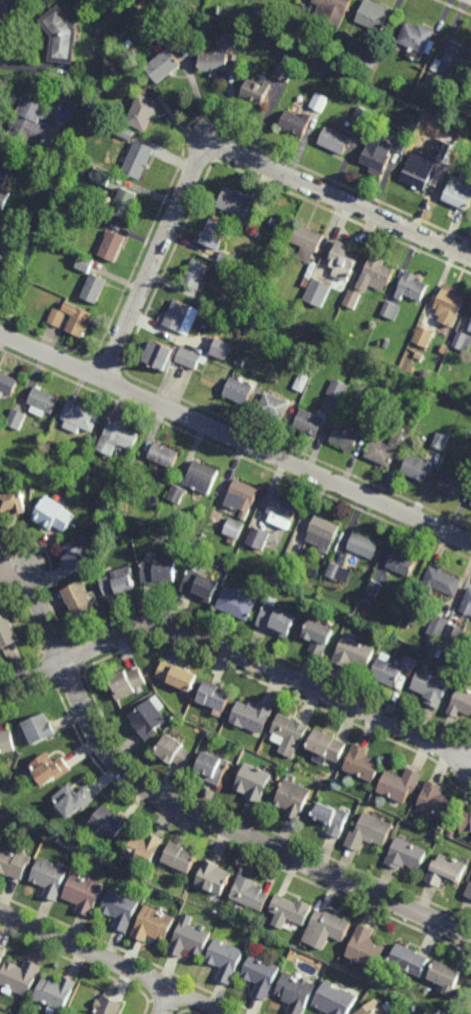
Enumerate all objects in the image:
building: (8, 7)
building: (332, 10)
building: (373, 14)
building: (284, 25)
building: (59, 36)
building: (417, 40)
building: (226, 41)
building: (369, 57)
building: (288, 58)
building: (453, 59)
building: (213, 61)
building: (163, 65)
building: (283, 70)
building: (430, 80)
building: (105, 89)
building: (256, 90)
building: (319, 101)
building: (142, 111)
building: (362, 118)
building: (29, 122)
building: (295, 122)
building: (123, 131)
building: (406, 132)
building: (334, 140)
building: (400, 144)
building: (15, 148)
road: (223, 148)
building: (377, 154)
building: (138, 159)
building: (443, 161)
building: (417, 172)
building: (101, 175)
building: (3, 178)
building: (459, 191)
building: (234, 202)
building: (123, 203)
building: (251, 231)
building: (212, 233)
building: (306, 242)
building: (15, 246)
building: (111, 246)
building: (27, 249)
building: (226, 258)
building: (341, 261)
building: (84, 264)
building: (219, 267)
building: (246, 269)
building: (195, 275)
building: (375, 275)
building: (306, 282)
building: (411, 287)
building: (94, 288)
building: (39, 290)
building: (317, 293)
building: (352, 299)
building: (450, 305)
building: (391, 310)
building: (198, 312)
building: (176, 316)
building: (56, 318)
building: (76, 319)
building: (470, 324)
building: (470, 329)
building: (334, 333)
building: (423, 336)
building: (462, 341)
building: (385, 342)
building: (220, 348)
building: (159, 356)
building: (418, 356)
building: (189, 358)
building: (301, 383)
building: (7, 385)
building: (423, 386)
building: (338, 389)
building: (238, 391)
building: (41, 402)
building: (344, 405)
building: (273, 406)
building: (78, 418)
building: (15, 420)
building: (309, 422)
building: (119, 436)
building: (345, 437)
road: (235, 438)
building: (441, 441)
building: (390, 446)
building: (1, 454)
building: (162, 456)
building: (468, 464)
building: (417, 468)
building: (134, 473)
building: (201, 477)
building: (452, 484)
building: (175, 494)
building: (106, 503)
building: (12, 504)
building: (470, 505)
building: (238, 507)
building: (281, 513)
building: (52, 515)
building: (323, 534)
building: (257, 538)
building: (231, 541)
building: (363, 546)
building: (74, 555)
building: (401, 562)
building: (335, 570)
building: (159, 572)
building: (287, 575)
building: (441, 580)
building: (118, 581)
building: (280, 583)
building: (200, 585)
building: (373, 587)
building: (78, 598)
building: (368, 601)
building: (289, 602)
building: (237, 603)
building: (467, 603)
building: (277, 620)
building: (406, 624)
building: (436, 628)
building: (7, 632)
building: (318, 635)
building: (451, 637)
building: (353, 652)
road: (236, 655)
building: (392, 670)
building: (177, 675)
building: (127, 683)
building: (431, 686)
building: (213, 695)
building: (462, 702)
building: (251, 715)
building: (148, 719)
building: (37, 729)
building: (289, 733)
building: (6, 741)
building: (327, 745)
building: (175, 751)
building: (363, 763)
building: (212, 767)
building: (50, 768)
building: (253, 782)
building: (400, 784)
building: (293, 798)
building: (74, 800)
building: (436, 801)
road: (192, 812)
building: (332, 818)
building: (466, 821)
building: (108, 823)
building: (449, 823)
building: (370, 832)
building: (451, 834)
building: (144, 848)
building: (407, 855)
building: (181, 857)
building: (13, 864)
building: (447, 871)
building: (49, 878)
building: (214, 878)
building: (468, 891)
building: (250, 893)
building: (84, 894)
building: (121, 909)
building: (291, 911)
building: (153, 925)
building: (327, 929)
building: (190, 939)
building: (367, 948)
building: (2, 953)
building: (225, 960)
building: (410, 960)
road: (115, 961)
building: (261, 976)
building: (19, 977)
building: (446, 977)
building: (55, 993)
building: (296, 993)
building: (335, 1000)
road: (167, 1001)
building: (22, 1005)
building: (108, 1006)
building: (373, 1009)

